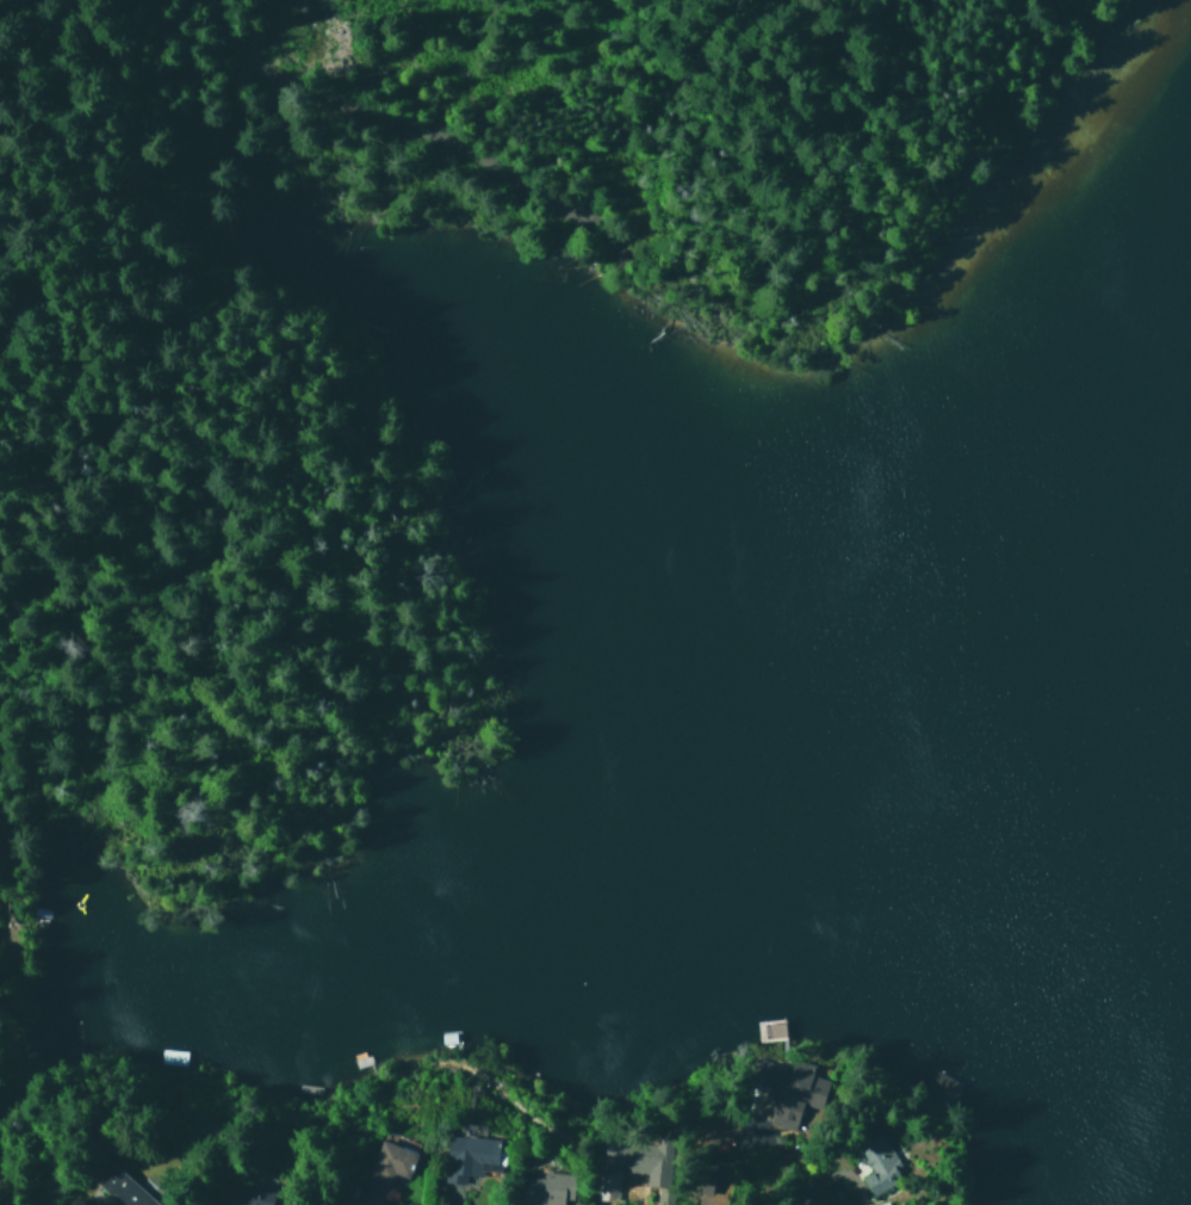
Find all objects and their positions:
building: (787, 1087)
building: (466, 1156)
building: (875, 1161)
building: (387, 1164)
building: (609, 1169)
building: (120, 1186)
building: (544, 1188)
building: (246, 1195)

